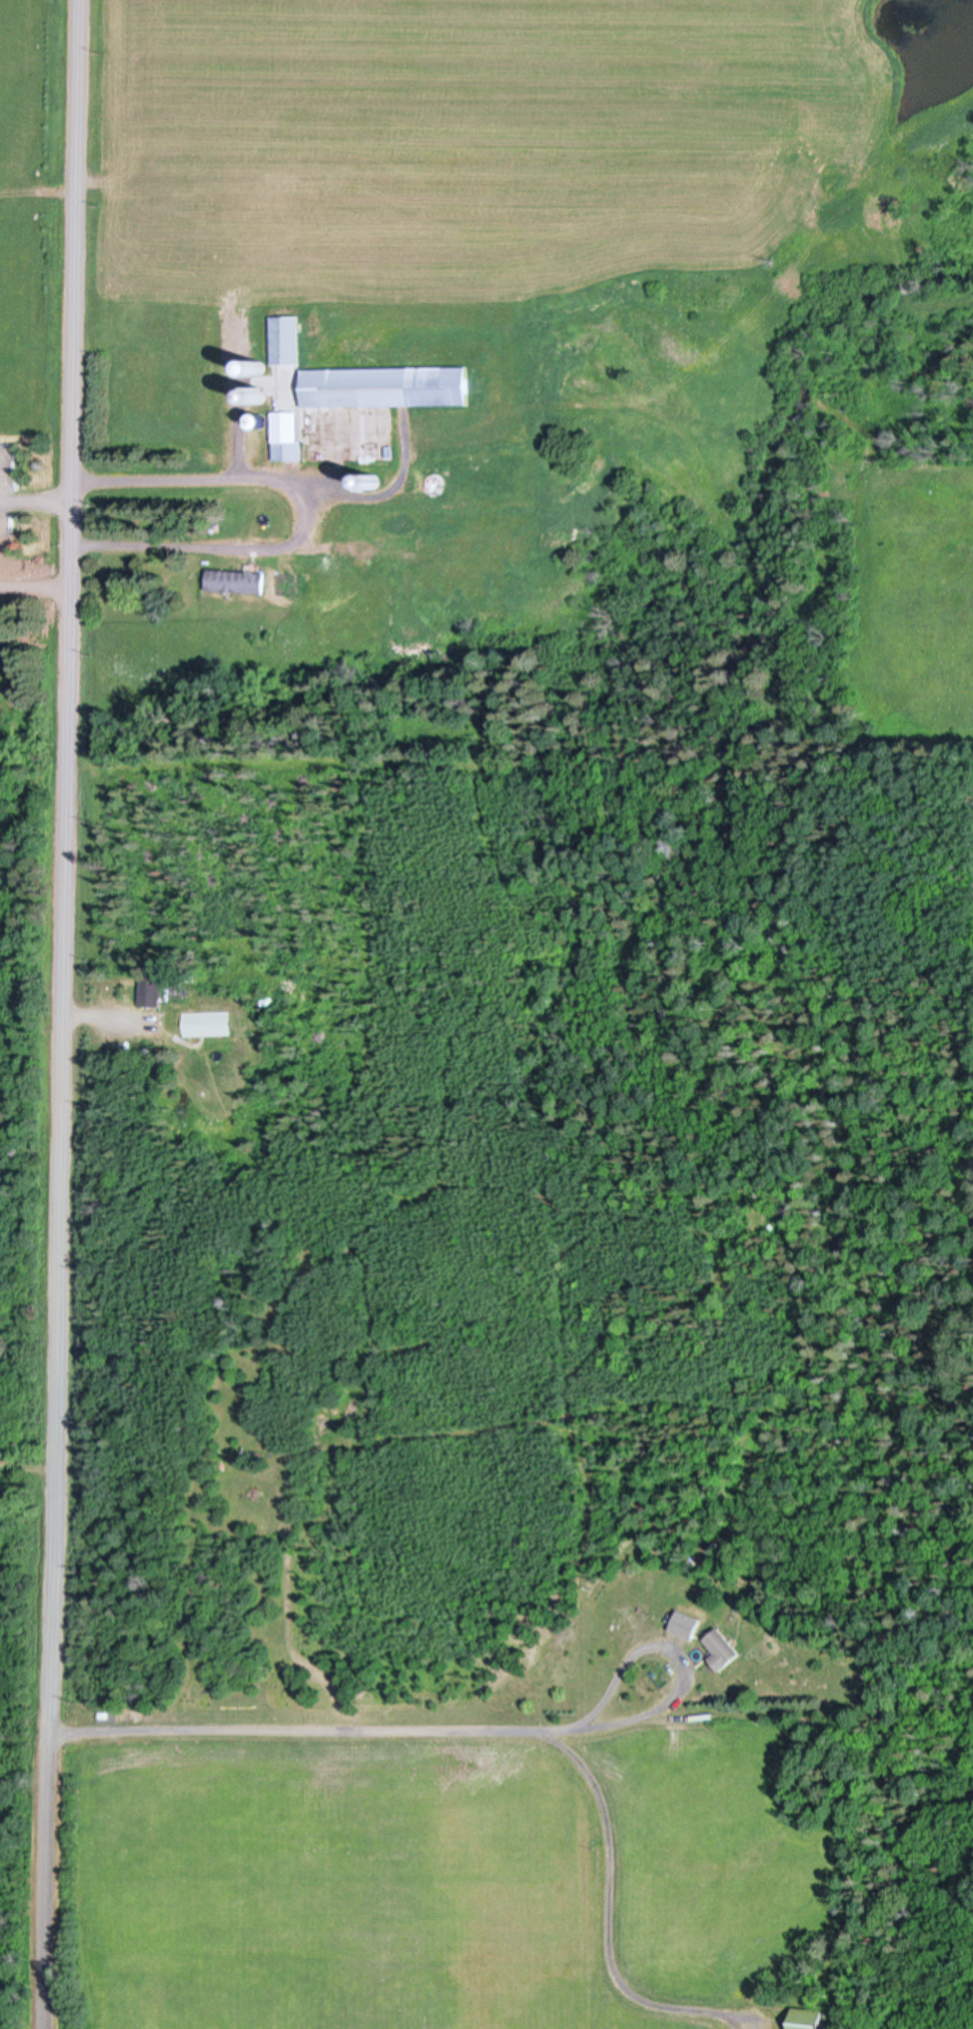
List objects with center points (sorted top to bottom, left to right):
road: (37, 192)
road: (213, 298)
building: (285, 339)
building: (257, 367)
building: (385, 385)
building: (257, 397)
building: (258, 419)
building: (286, 435)
building: (362, 436)
building: (372, 480)
road: (35, 501)
road: (306, 515)
building: (379, 523)
building: (236, 580)
road: (34, 591)
river: (755, 866)
building: (150, 988)
road: (64, 1014)
building: (206, 1022)
building: (687, 1625)
building: (724, 1649)
road: (687, 1679)
road: (502, 1733)
river: (943, 1886)
building: (812, 2019)

